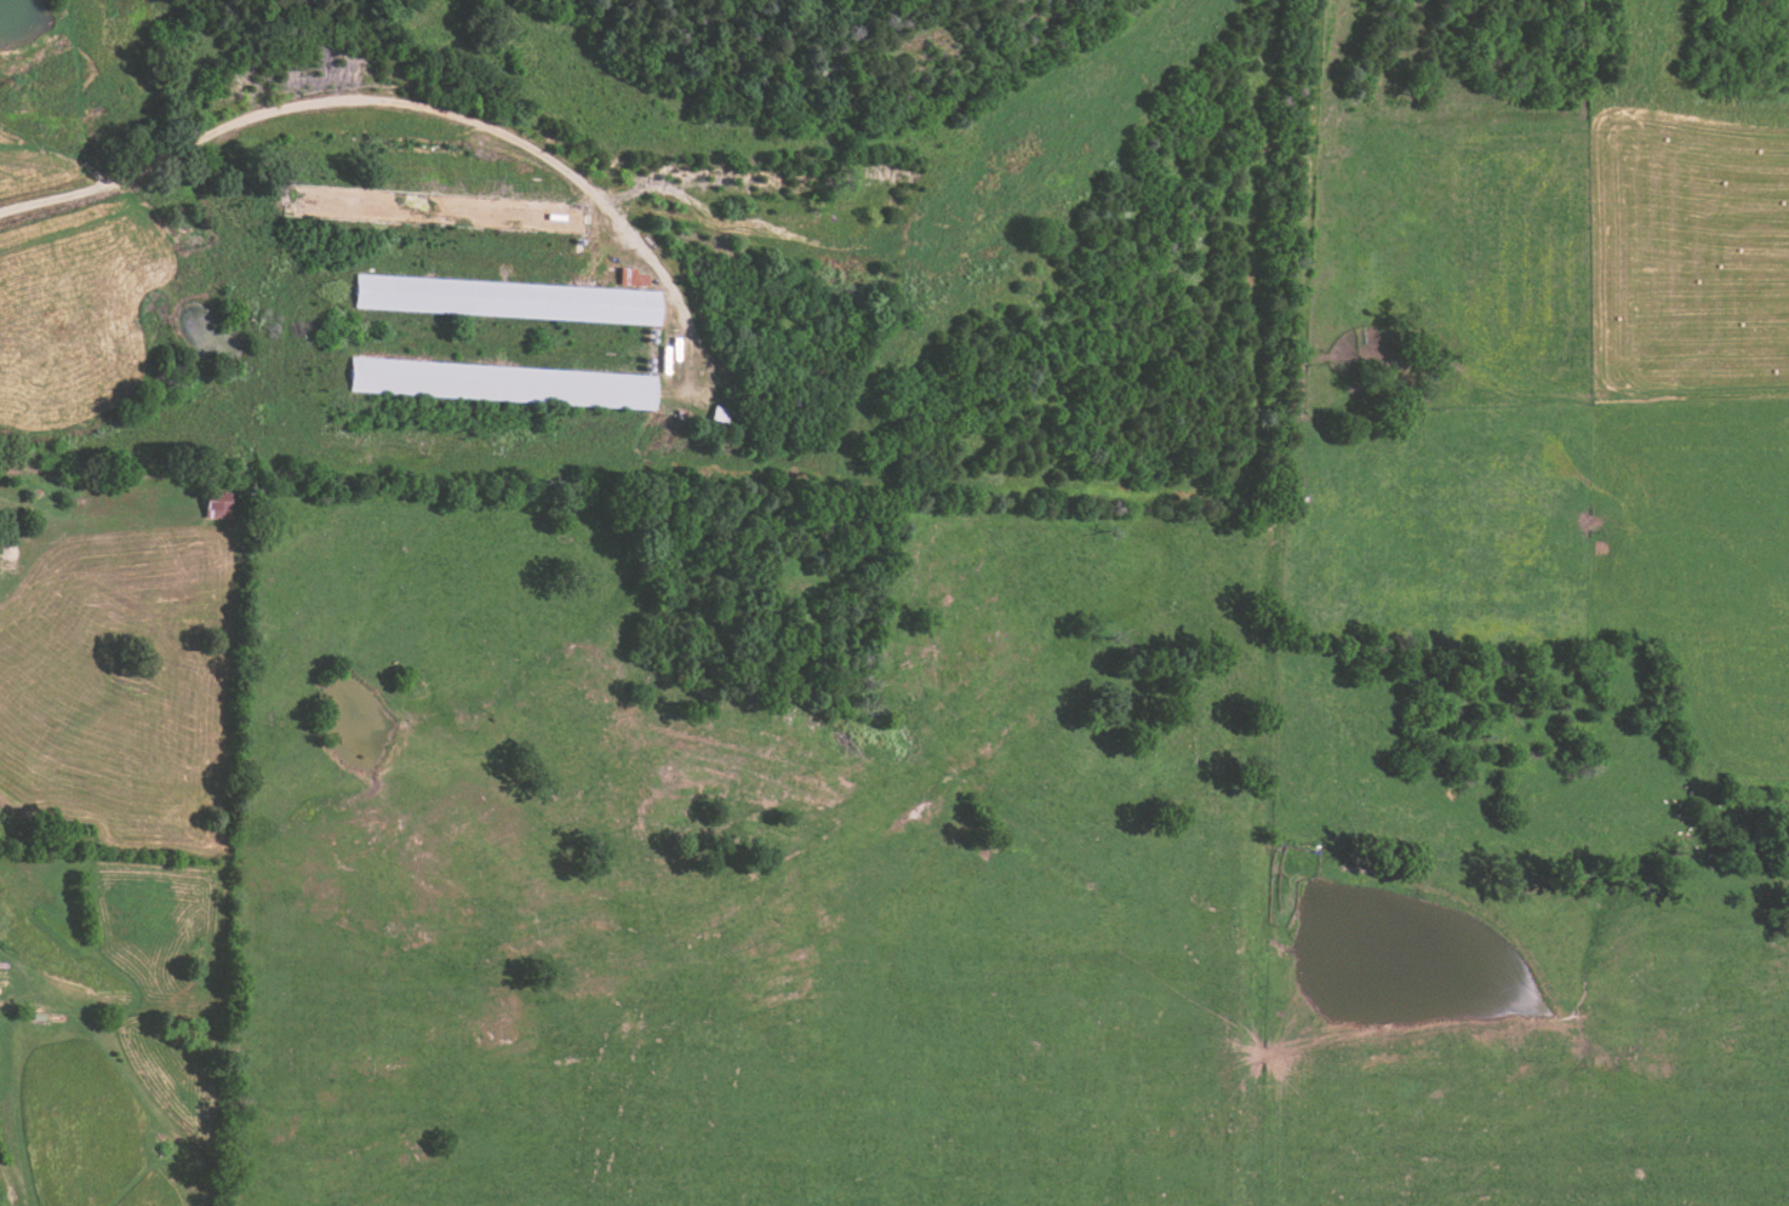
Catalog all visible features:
road: (395, 105)
road: (1, 1000)
road: (1253, 1027)

